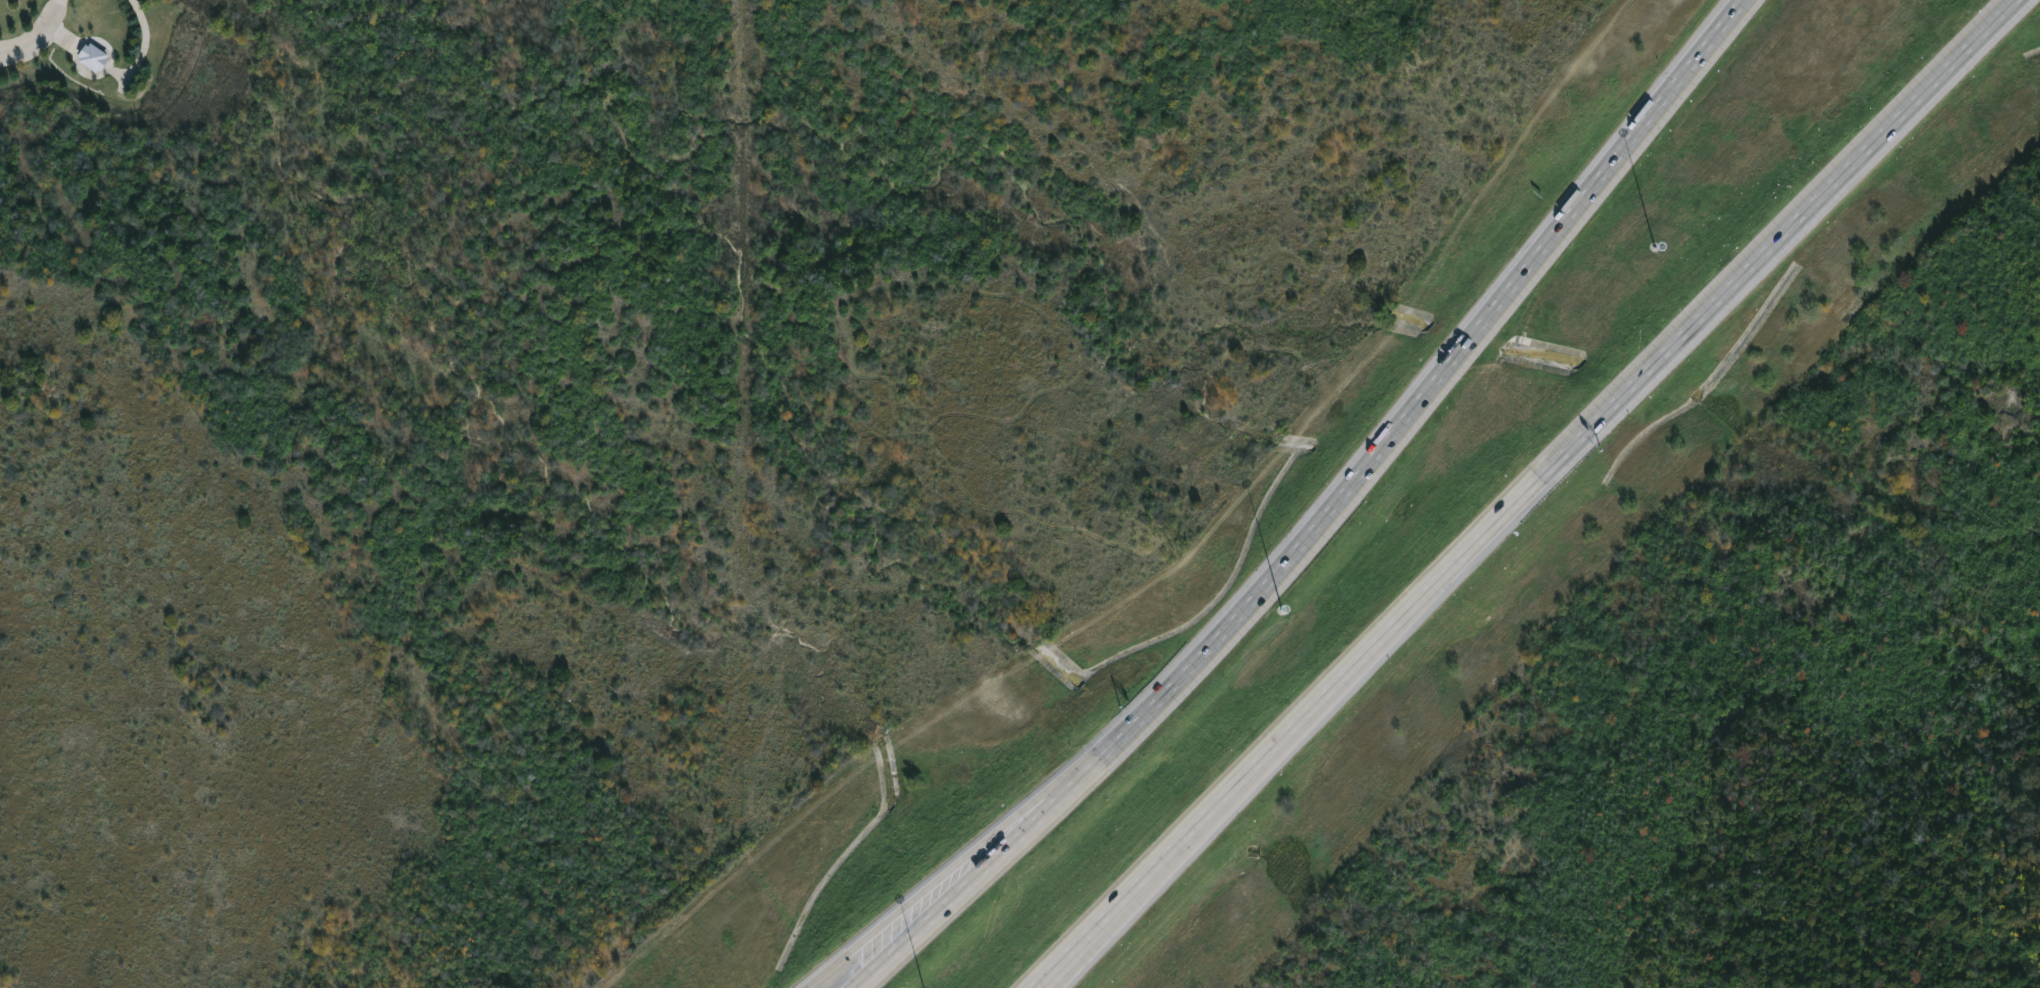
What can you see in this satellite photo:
road: (34, 32)
road: (145, 38)
building: (95, 58)
street lamp: (1654, 247)
road: (1404, 411)
park: (605, 418)
park: (621, 420)
road: (1519, 493)
street lamp: (1283, 609)
road: (1012, 827)
road: (952, 896)
road: (889, 919)

